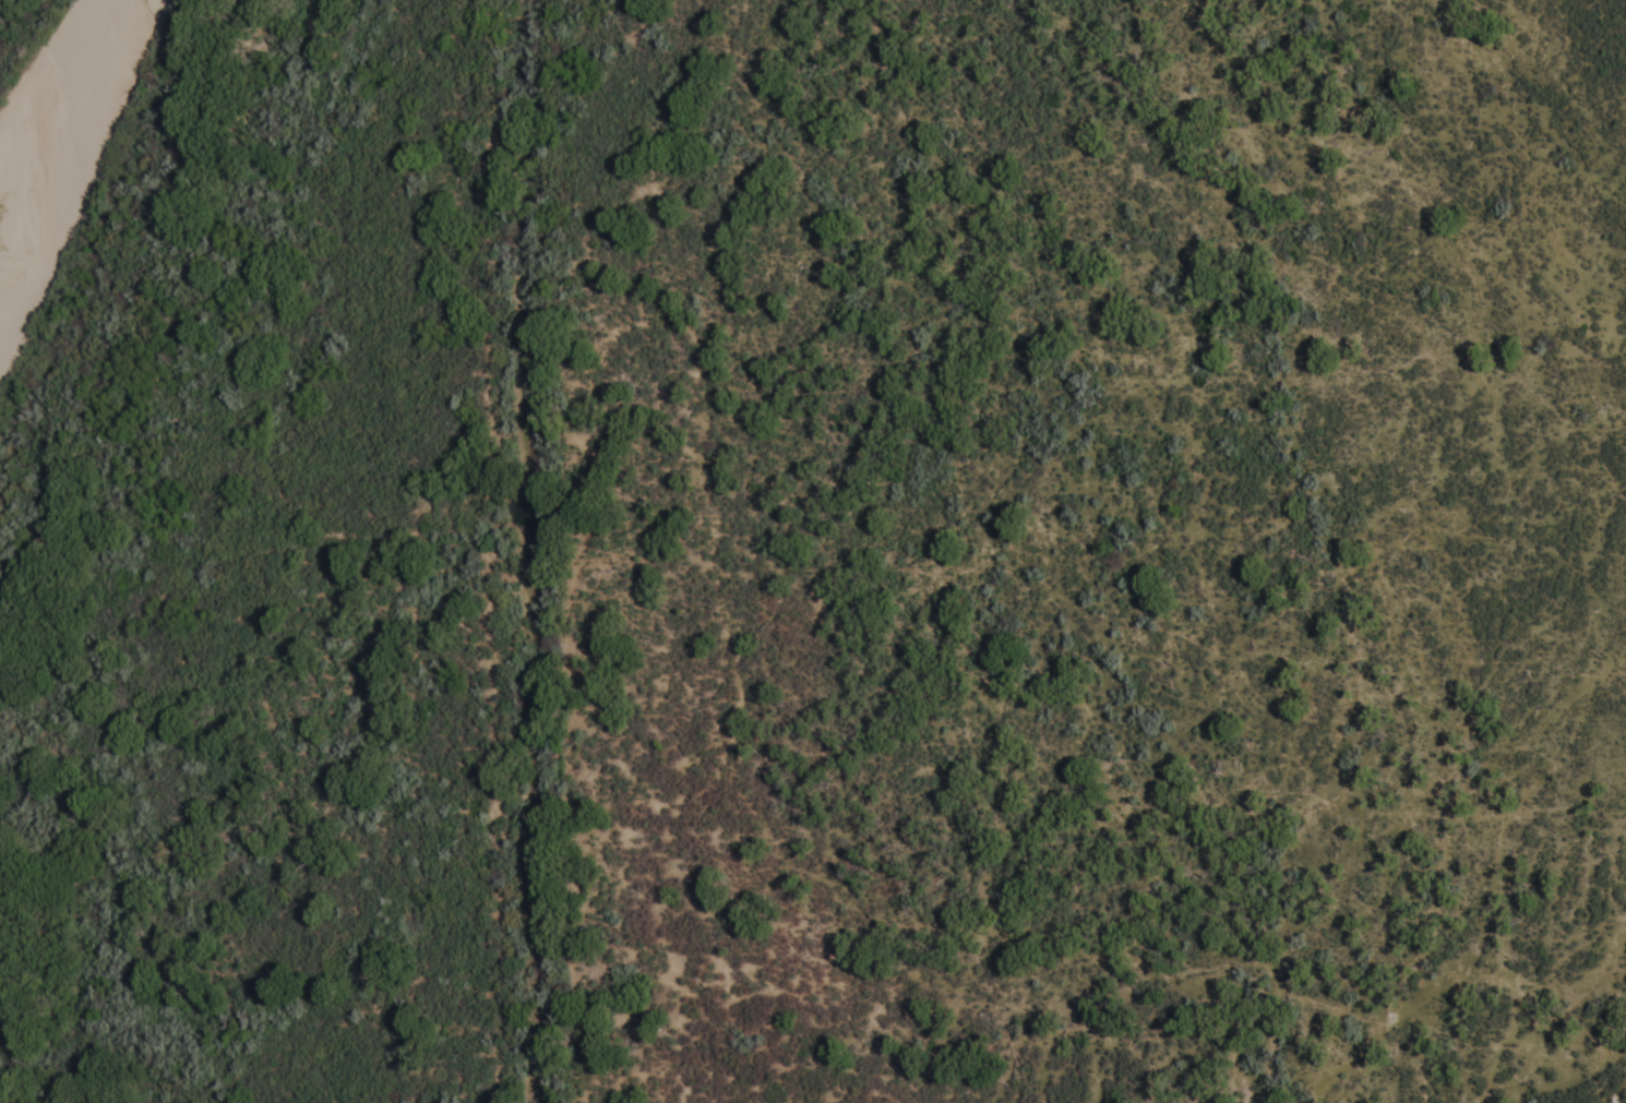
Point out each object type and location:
river: (57, 107)

